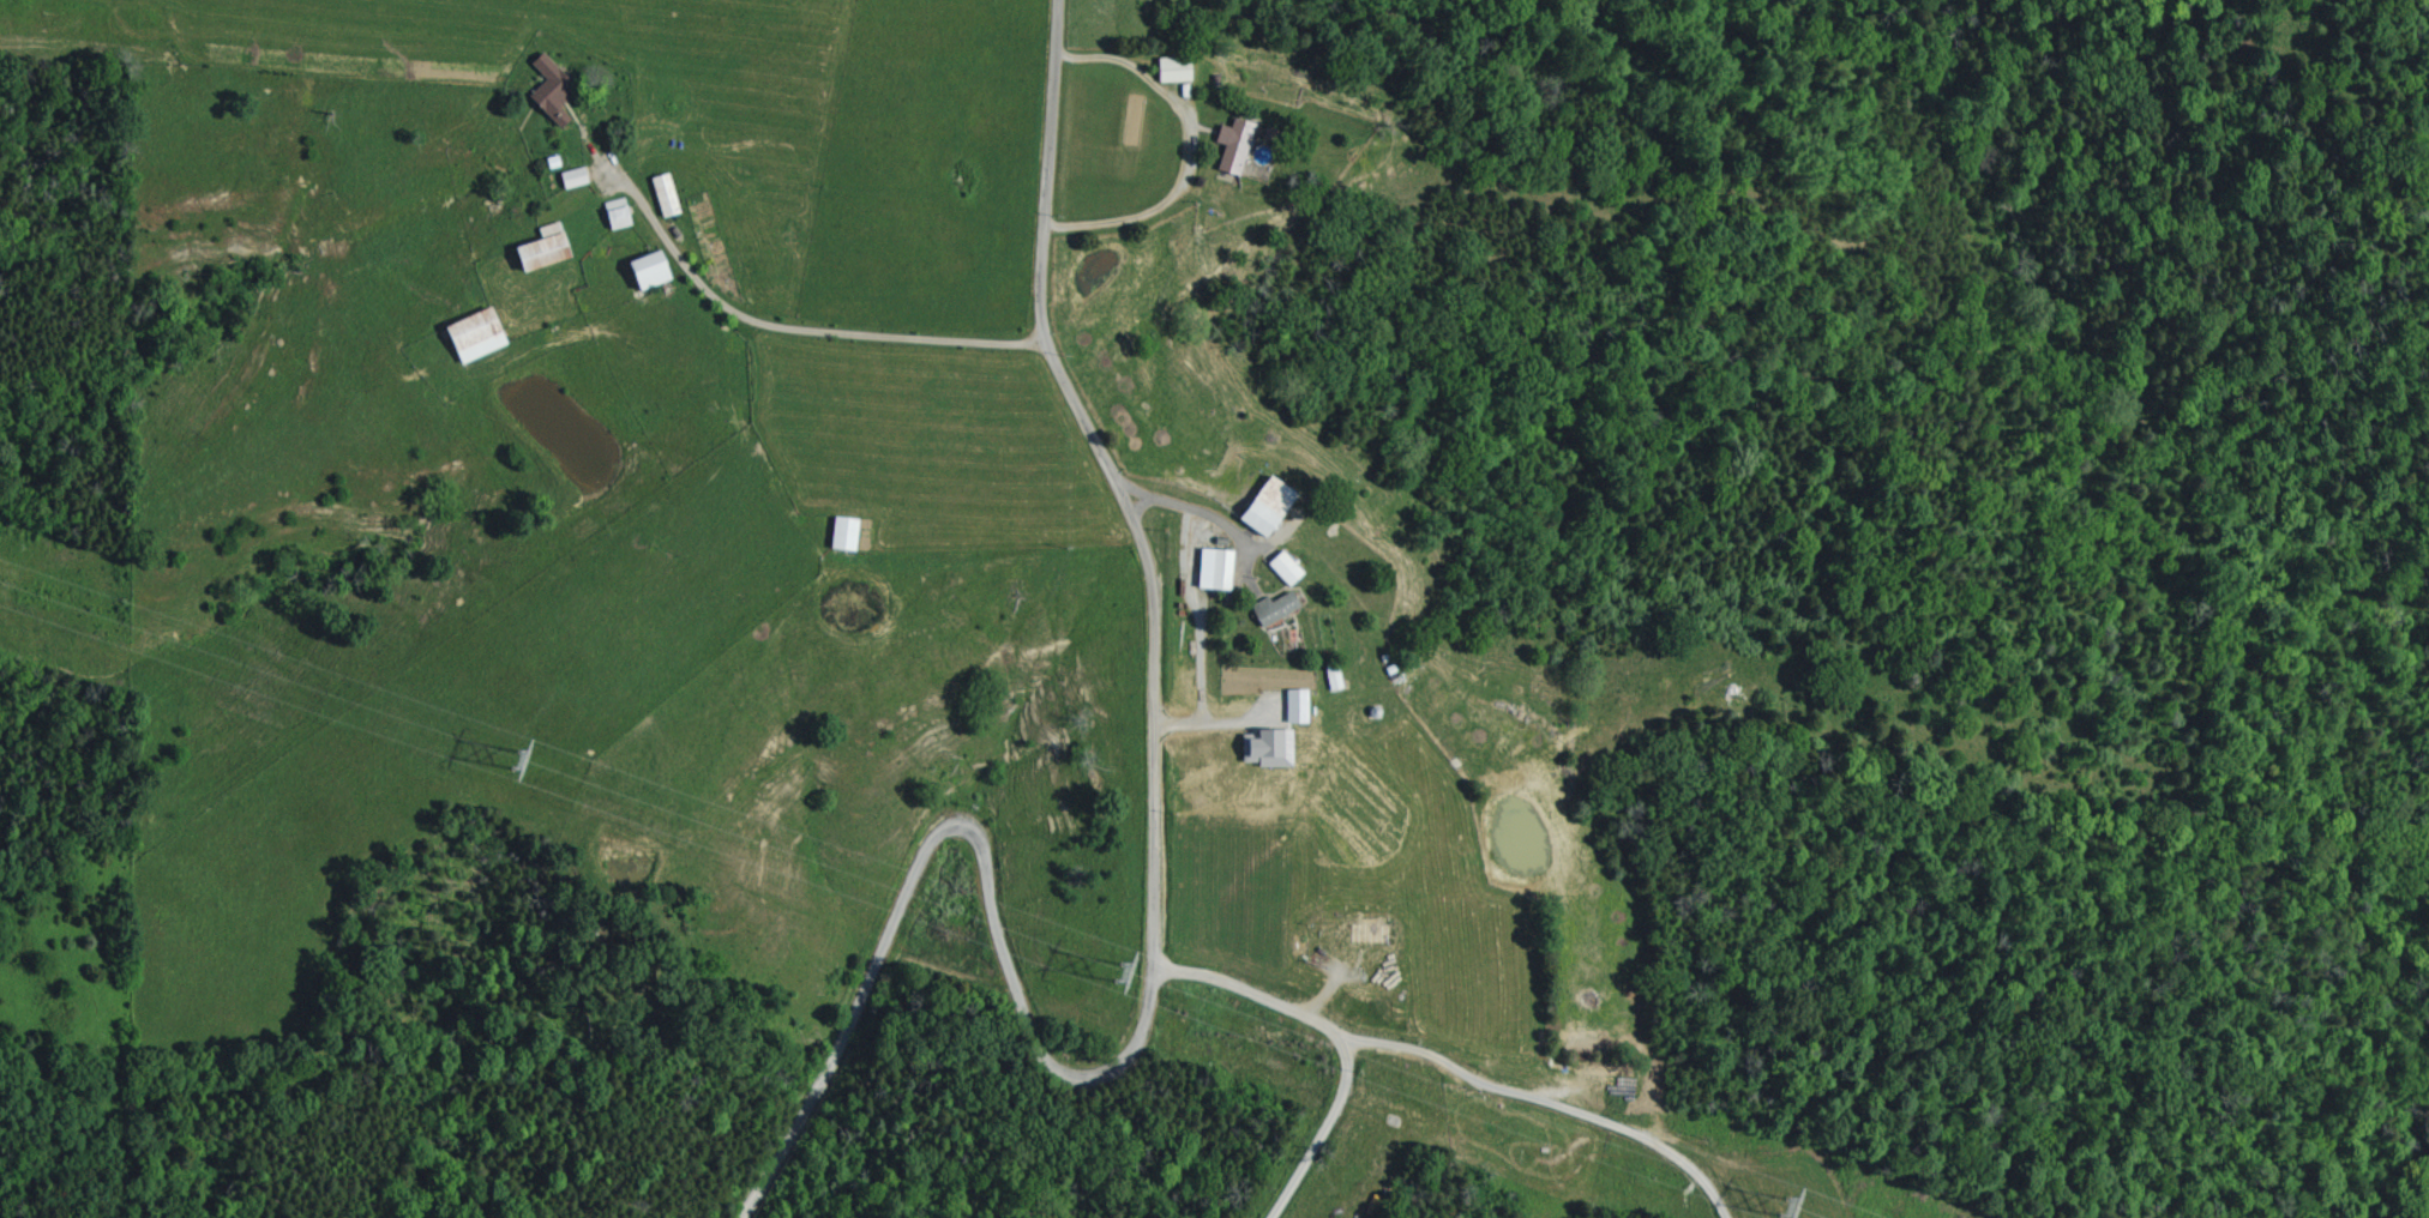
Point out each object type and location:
building: (1166, 70)
building: (553, 86)
building: (1227, 145)
road: (1188, 155)
building: (576, 176)
building: (667, 194)
building: (619, 213)
building: (547, 247)
building: (656, 269)
road: (794, 330)
building: (480, 334)
road: (1111, 478)
building: (1257, 506)
road: (1196, 511)
building: (847, 532)
building: (1279, 567)
building: (1268, 608)
building: (1329, 679)
building: (1261, 747)
power tower: (518, 762)
road: (942, 812)
building: (1364, 934)
power tower: (1122, 973)
road: (1246, 994)
road: (1545, 1098)
road: (1324, 1130)
power tower: (1786, 1207)

